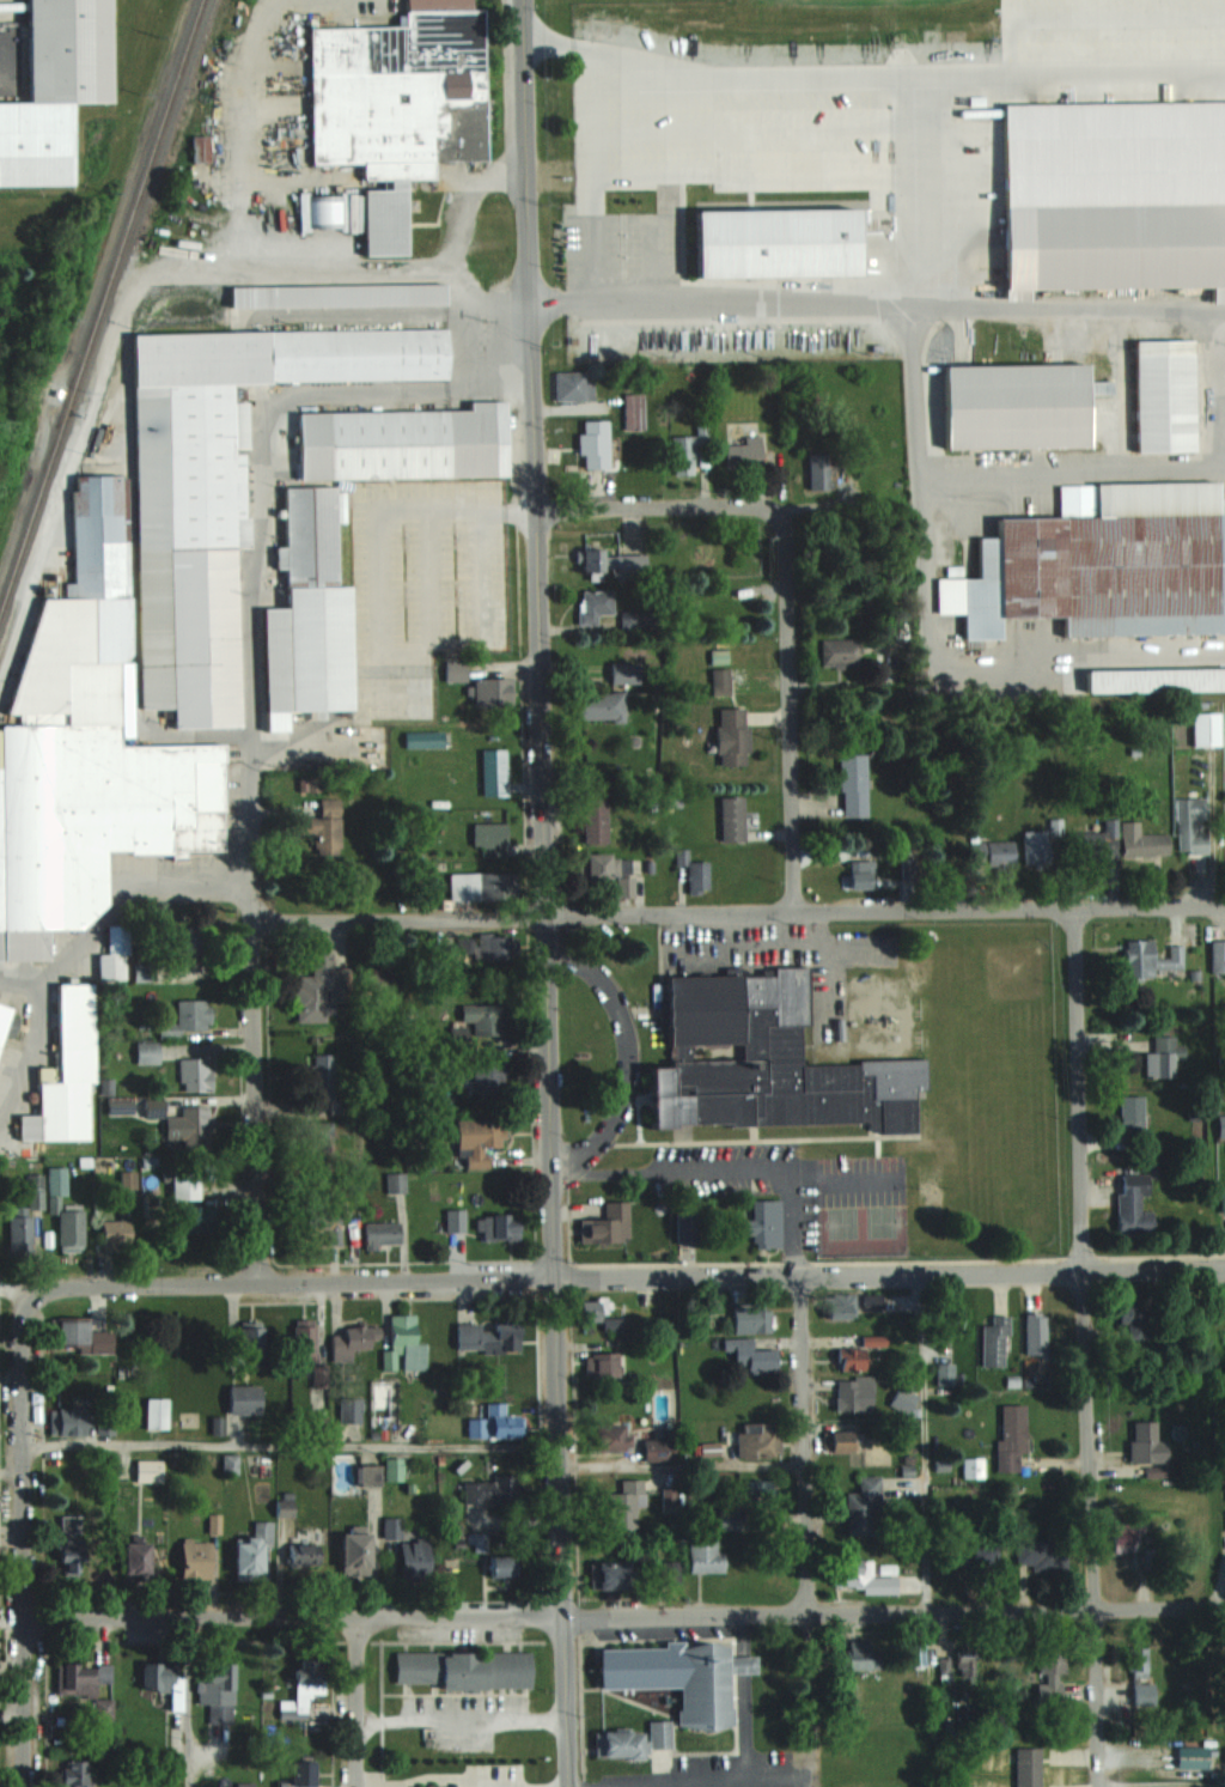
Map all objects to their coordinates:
crop: (746, 2)
road: (1090, 17)
road: (907, 73)
building: (53, 87)
building: (397, 103)
road: (749, 129)
road: (596, 174)
road: (800, 175)
building: (1113, 194)
parking lot: (831, 206)
building: (773, 241)
road: (291, 267)
building: (336, 294)
road: (909, 306)
railway: (102, 309)
park: (31, 360)
road: (1220, 365)
building: (574, 385)
building: (1162, 394)
building: (1013, 405)
building: (634, 409)
road: (263, 431)
building: (401, 443)
building: (597, 443)
building: (691, 449)
building: (745, 451)
road: (1145, 464)
road: (1221, 464)
building: (818, 469)
building: (219, 487)
road: (656, 507)
road: (379, 519)
building: (1102, 563)
building: (610, 564)
road: (924, 572)
parking lot: (421, 584)
building: (595, 606)
building: (306, 612)
building: (645, 620)
building: (841, 651)
building: (627, 674)
building: (1153, 679)
building: (719, 680)
building: (493, 692)
building: (601, 707)
road: (787, 709)
building: (1205, 729)
building: (731, 735)
building: (86, 749)
building: (495, 772)
building: (853, 785)
building: (596, 820)
building: (733, 820)
building: (1190, 825)
building: (325, 828)
building: (490, 839)
building: (1142, 840)
building: (1097, 841)
building: (1036, 846)
building: (993, 852)
building: (596, 868)
building: (695, 870)
building: (860, 873)
building: (624, 886)
building: (483, 887)
road: (546, 893)
road: (737, 912)
road: (81, 942)
building: (183, 946)
building: (492, 947)
building: (1218, 954)
building: (116, 956)
parking lot: (780, 959)
building: (1150, 959)
park: (1005, 974)
building: (321, 989)
road: (251, 1001)
building: (195, 1015)
building: (1163, 1015)
building: (484, 1019)
building: (7, 1022)
road: (627, 1052)
building: (1164, 1057)
building: (767, 1059)
building: (63, 1072)
building: (196, 1075)
building: (490, 1077)
building: (322, 1083)
building: (1130, 1114)
building: (190, 1127)
building: (479, 1141)
building: (321, 1149)
road: (729, 1168)
building: (57, 1181)
building: (396, 1183)
building: (185, 1186)
parking lot: (800, 1189)
building: (1132, 1203)
building: (322, 1216)
building: (197, 1220)
building: (456, 1221)
building: (763, 1223)
building: (608, 1226)
building: (687, 1227)
building: (72, 1228)
building: (500, 1229)
building: (116, 1234)
building: (383, 1234)
building: (20, 1236)
road: (626, 1275)
building: (592, 1308)
building: (841, 1312)
building: (752, 1319)
building: (950, 1324)
building: (1134, 1325)
building: (72, 1333)
building: (1036, 1333)
building: (489, 1338)
building: (874, 1339)
building: (356, 1341)
building: (995, 1341)
building: (252, 1342)
building: (103, 1343)
building: (305, 1343)
building: (408, 1343)
road: (1083, 1347)
building: (754, 1356)
building: (853, 1360)
building: (603, 1364)
building: (946, 1374)
building: (855, 1394)
building: (245, 1399)
building: (904, 1399)
building: (348, 1409)
building: (158, 1414)
building: (69, 1422)
building: (498, 1423)
building: (1013, 1436)
building: (610, 1439)
building: (758, 1440)
building: (841, 1441)
road: (924, 1442)
building: (1145, 1442)
road: (803, 1443)
road: (291, 1445)
building: (660, 1449)
building: (230, 1464)
road: (682, 1466)
building: (974, 1467)
building: (150, 1470)
building: (494, 1490)
building: (760, 1490)
building: (626, 1503)
building: (865, 1507)
building: (730, 1519)
building: (392, 1536)
road: (20, 1540)
building: (481, 1542)
building: (1133, 1543)
building: (72, 1544)
building: (306, 1546)
building: (976, 1551)
building: (358, 1552)
building: (255, 1554)
building: (705, 1554)
building: (1042, 1555)
building: (140, 1560)
building: (199, 1560)
building: (416, 1561)
building: (506, 1566)
building: (611, 1576)
building: (861, 1576)
road: (623, 1615)
road: (744, 1634)
building: (864, 1657)
building: (1050, 1660)
building: (968, 1663)
building: (1136, 1663)
road: (745, 1664)
building: (467, 1670)
building: (682, 1678)
building: (83, 1679)
building: (165, 1683)
building: (305, 1686)
building: (220, 1695)
building: (1144, 1695)
road: (355, 1701)
road: (185, 1702)
road: (461, 1715)
parking lot: (456, 1720)
building: (660, 1736)
building: (621, 1745)
building: (1192, 1756)
building: (1026, 1767)
building: (78, 1774)
building: (303, 1775)
road: (420, 1777)
parking lot: (484, 1779)
parking lot: (367, 1782)
road: (714, 1782)

